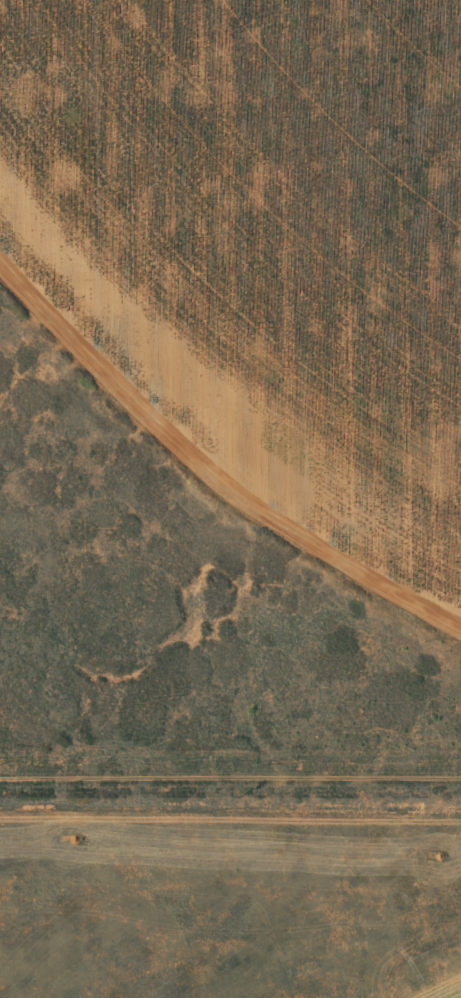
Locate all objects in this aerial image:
road: (230, 759)

